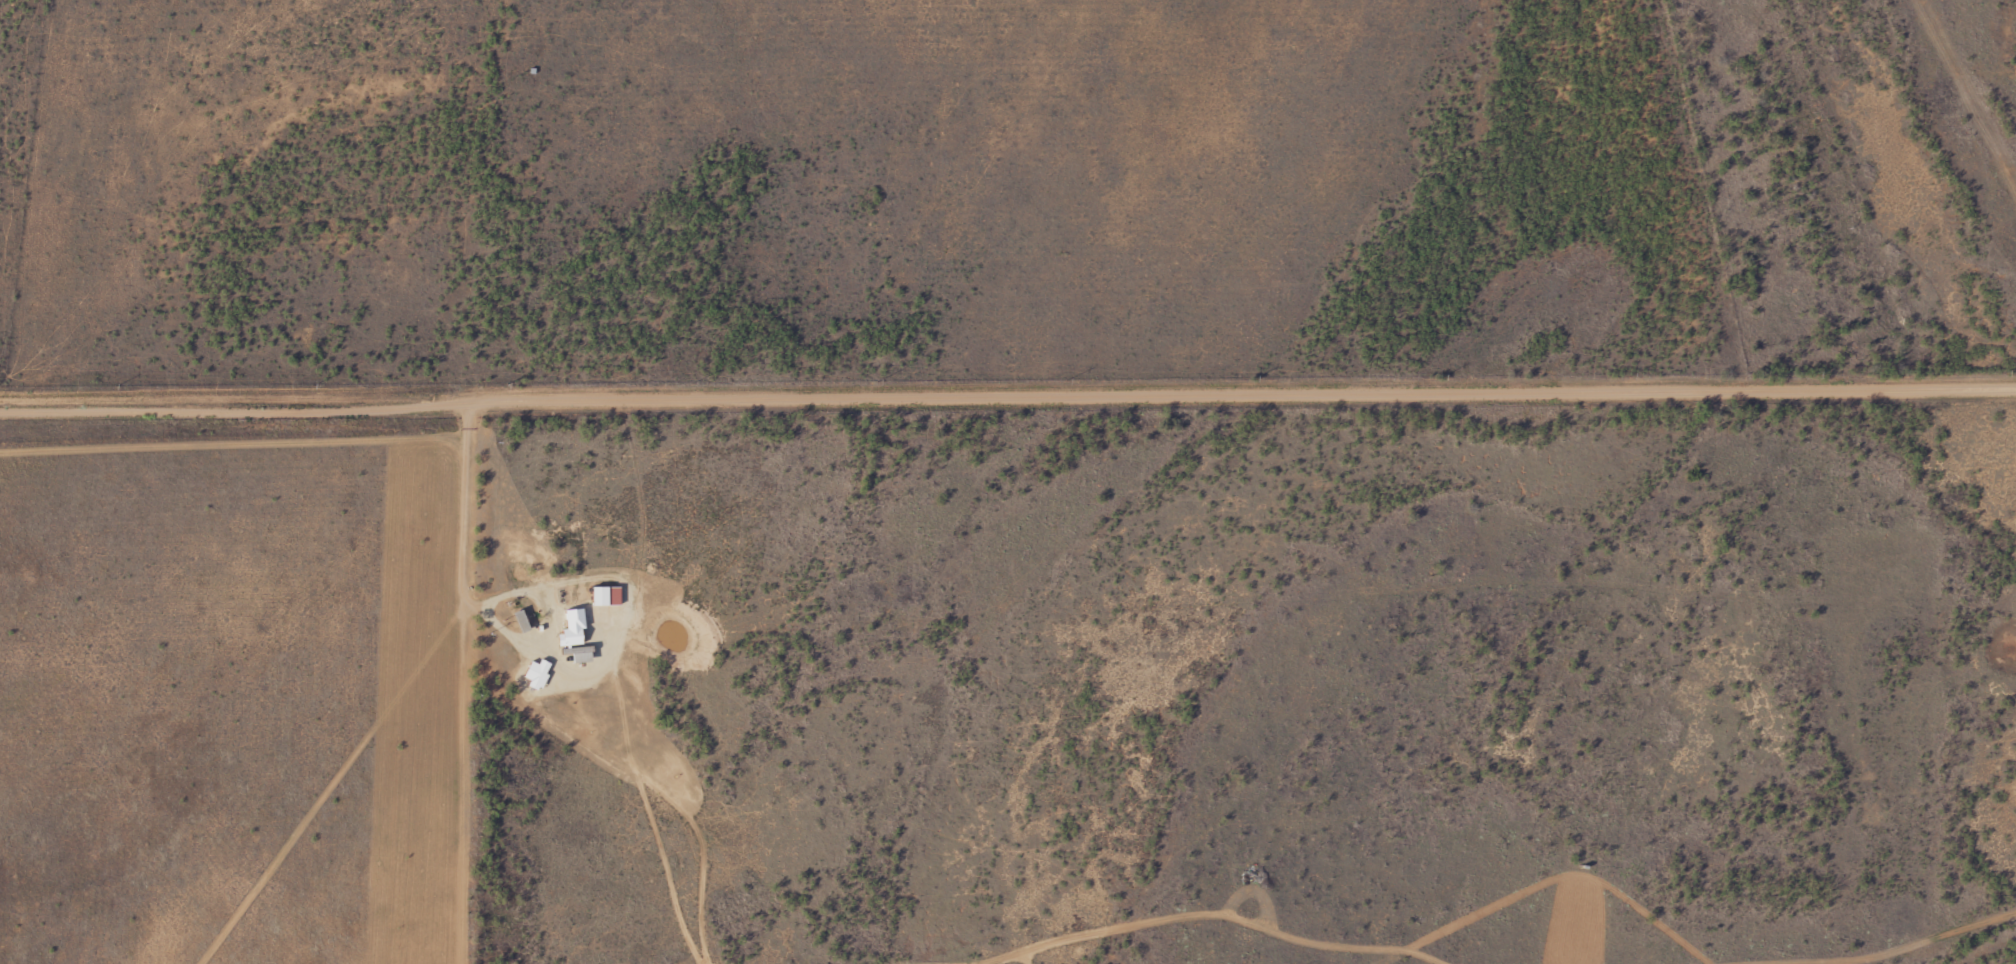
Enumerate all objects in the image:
road: (1008, 394)
road: (464, 597)
building: (606, 597)
building: (579, 655)

